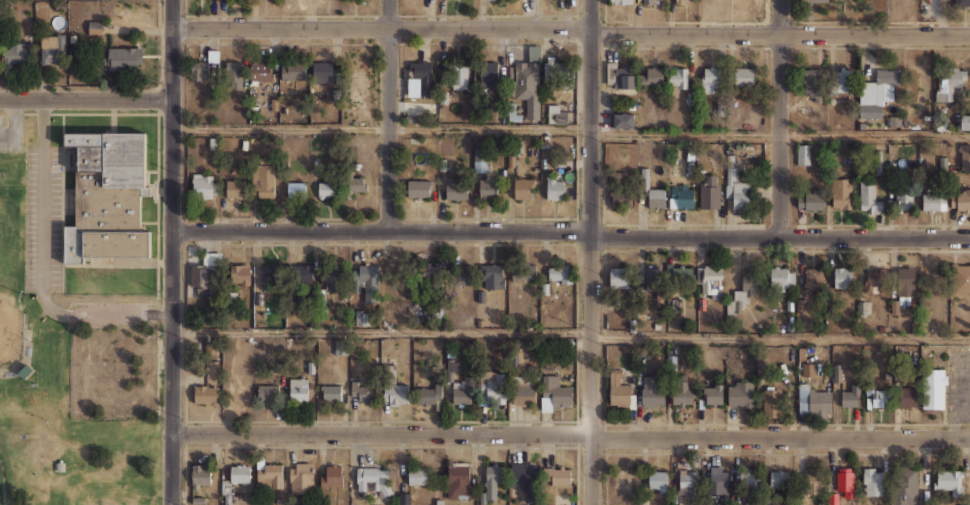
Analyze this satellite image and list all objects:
building: (623, 1)
building: (682, 1)
building: (815, 1)
building: (648, 2)
building: (960, 4)
building: (60, 6)
road: (302, 14)
building: (95, 27)
road: (571, 28)
building: (54, 51)
building: (17, 54)
building: (213, 55)
building: (123, 58)
building: (557, 69)
building: (199, 71)
building: (293, 71)
building: (322, 71)
building: (260, 72)
building: (235, 73)
building: (487, 73)
building: (619, 75)
building: (651, 76)
building: (458, 77)
building: (677, 77)
building: (744, 77)
building: (420, 80)
building: (710, 80)
building: (842, 80)
building: (528, 82)
building: (813, 83)
building: (949, 83)
building: (877, 92)
building: (335, 96)
building: (444, 97)
building: (691, 98)
road: (85, 102)
building: (274, 104)
building: (720, 109)
building: (284, 110)
building: (513, 113)
building: (556, 115)
road: (389, 117)
building: (410, 118)
road: (781, 118)
building: (622, 120)
building: (894, 121)
building: (964, 122)
road: (13, 126)
building: (862, 126)
building: (943, 127)
road: (571, 128)
parking lot: (9, 135)
building: (414, 141)
building: (555, 142)
building: (213, 143)
building: (478, 144)
building: (515, 146)
building: (738, 146)
building: (690, 154)
building: (803, 155)
building: (964, 156)
building: (480, 160)
building: (511, 160)
building: (831, 160)
building: (878, 162)
building: (953, 163)
building: (356, 165)
building: (442, 165)
building: (892, 166)
building: (943, 166)
building: (747, 168)
building: (503, 172)
building: (616, 174)
building: (264, 178)
building: (644, 178)
building: (961, 180)
building: (327, 184)
building: (352, 184)
building: (204, 186)
building: (487, 186)
building: (736, 187)
building: (295, 188)
building: (419, 188)
building: (523, 188)
building: (555, 188)
building: (235, 189)
building: (456, 189)
building: (709, 193)
building: (841, 193)
building: (107, 196)
building: (681, 197)
building: (656, 198)
building: (869, 198)
building: (620, 199)
building: (903, 199)
building: (811, 200)
building: (961, 201)
building: (934, 202)
road: (570, 231)
road: (171, 252)
road: (590, 252)
road: (42, 267)
building: (523, 271)
building: (285, 273)
building: (428, 273)
building: (560, 273)
building: (679, 273)
building: (240, 274)
building: (466, 275)
park: (10, 276)
building: (332, 276)
building: (494, 276)
building: (619, 277)
building: (843, 277)
building: (203, 279)
building: (781, 279)
building: (960, 279)
building: (875, 280)
building: (654, 281)
building: (710, 281)
building: (905, 281)
building: (366, 282)
building: (812, 288)
building: (545, 289)
building: (744, 292)
building: (481, 296)
building: (229, 301)
building: (258, 301)
building: (321, 302)
building: (701, 303)
building: (789, 304)
building: (673, 305)
building: (799, 307)
building: (868, 307)
building: (894, 307)
building: (832, 308)
building: (642, 316)
building: (361, 317)
building: (480, 323)
building: (656, 325)
building: (632, 326)
building: (759, 326)
building: (914, 327)
building: (881, 328)
road: (570, 331)
building: (341, 347)
building: (801, 353)
building: (672, 363)
building: (641, 365)
building: (311, 368)
building: (808, 369)
building: (25, 371)
building: (214, 371)
building: (838, 373)
building: (900, 373)
building: (887, 376)
building: (682, 377)
park: (69, 384)
parking lot: (958, 384)
building: (393, 385)
building: (496, 387)
building: (933, 388)
building: (298, 389)
building: (620, 390)
building: (363, 391)
building: (522, 391)
building: (331, 392)
building: (464, 392)
building: (652, 392)
building: (268, 393)
building: (553, 393)
building: (682, 393)
building: (741, 393)
building: (205, 394)
building: (428, 394)
building: (851, 394)
building: (712, 395)
building: (878, 395)
building: (904, 396)
building: (813, 400)
building: (771, 402)
road: (570, 434)
building: (59, 466)
building: (240, 474)
building: (200, 475)
building: (270, 475)
building: (418, 475)
building: (331, 476)
building: (555, 476)
building: (302, 478)
building: (688, 478)
building: (749, 478)
building: (780, 478)
building: (493, 479)
building: (525, 479)
building: (373, 480)
building: (457, 480)
building: (658, 480)
building: (718, 480)
building: (844, 481)
building: (870, 481)
building: (813, 482)
building: (949, 482)
building: (901, 486)
building: (405, 498)
building: (674, 498)
building: (228, 499)
building: (564, 499)
building: (832, 499)
building: (198, 500)
building: (279, 501)
building: (440, 502)
parking lot: (107, 504)

